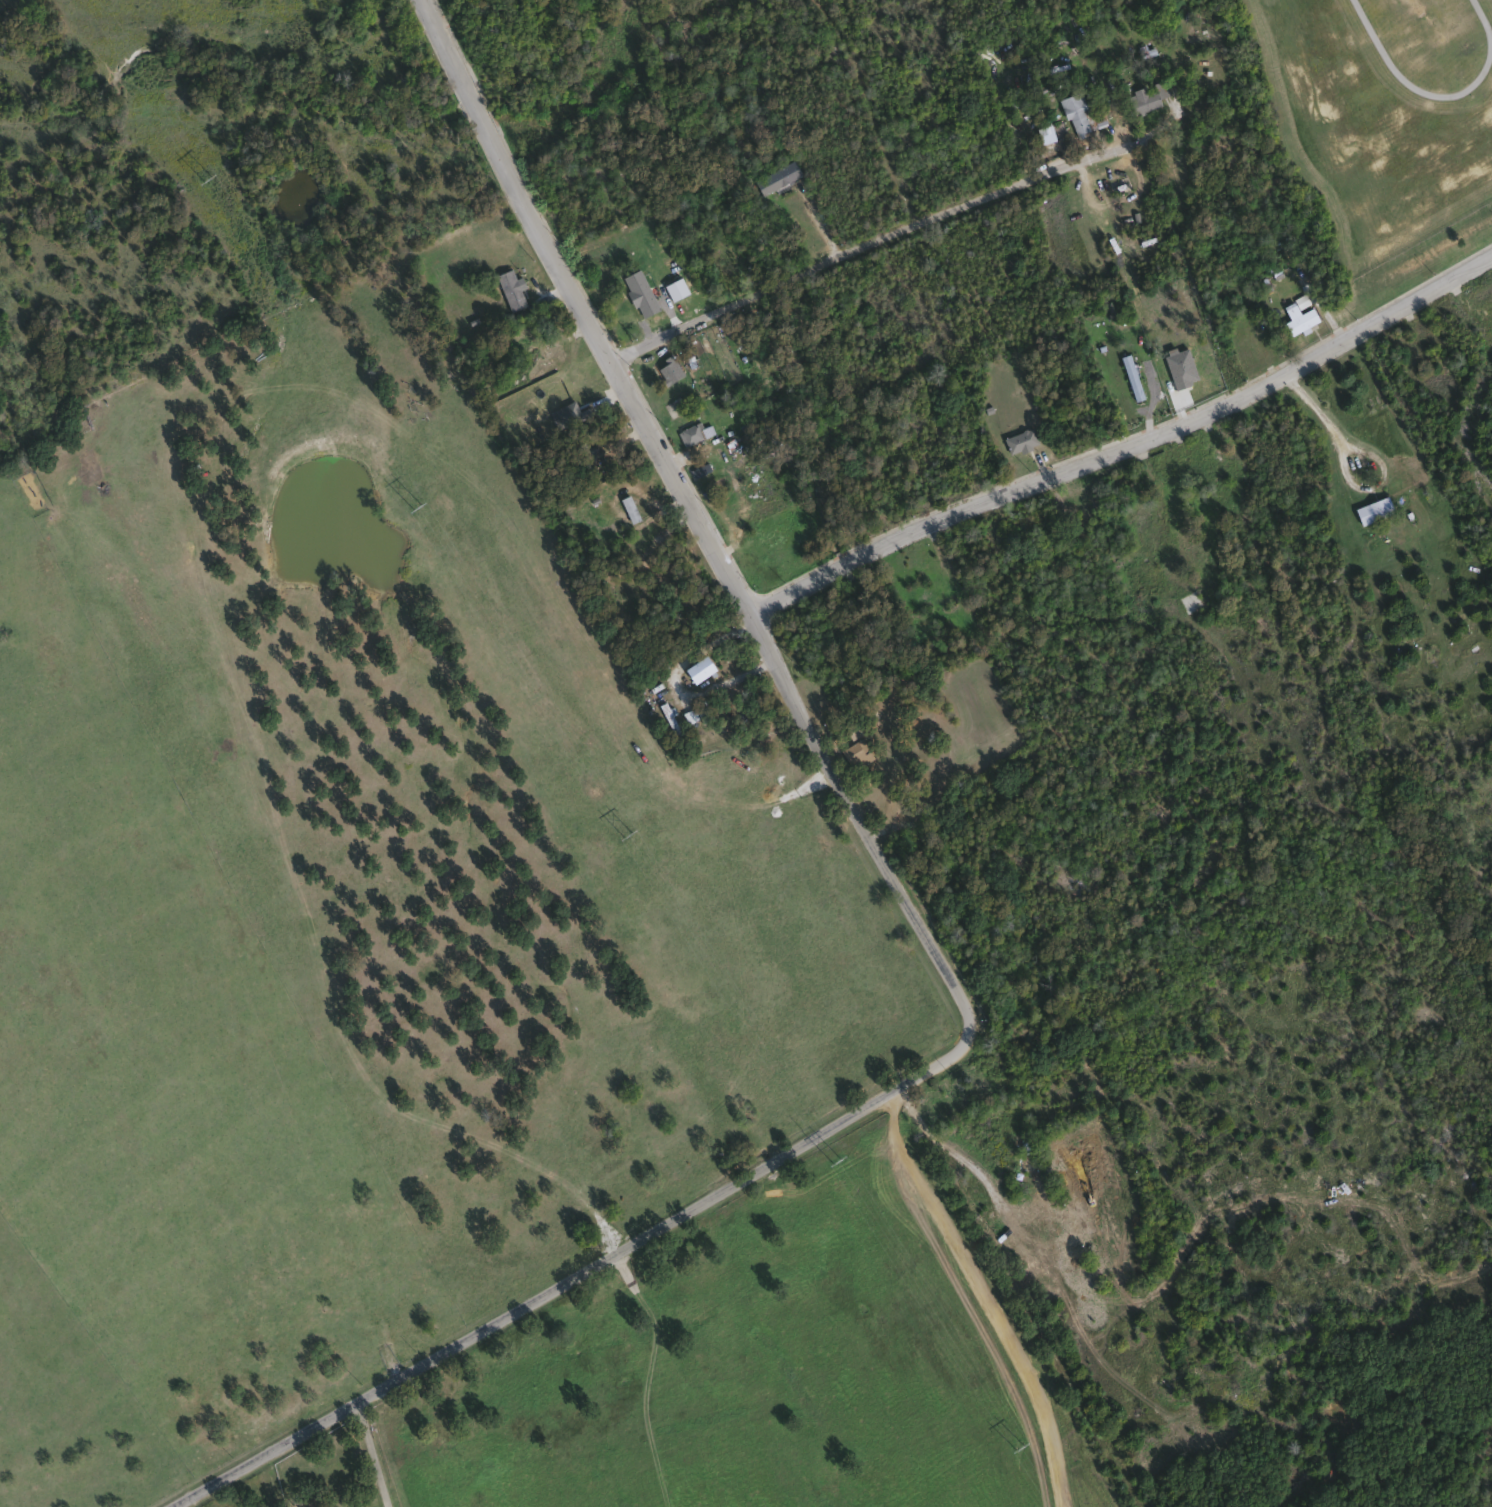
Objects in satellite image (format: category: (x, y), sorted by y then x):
building: (1145, 97)
building: (1076, 113)
building: (775, 177)
road: (875, 244)
building: (509, 290)
building: (1480, 301)
building: (636, 314)
building: (1298, 321)
building: (1130, 377)
road: (1330, 427)
building: (693, 432)
building: (1020, 441)
road: (1127, 449)
building: (628, 508)
building: (1372, 510)
building: (1149, 570)
road: (729, 577)
building: (1189, 601)
building: (697, 669)
building: (696, 714)
building: (853, 727)
building: (855, 754)
road: (984, 1308)
road: (523, 1309)
road: (378, 1454)

